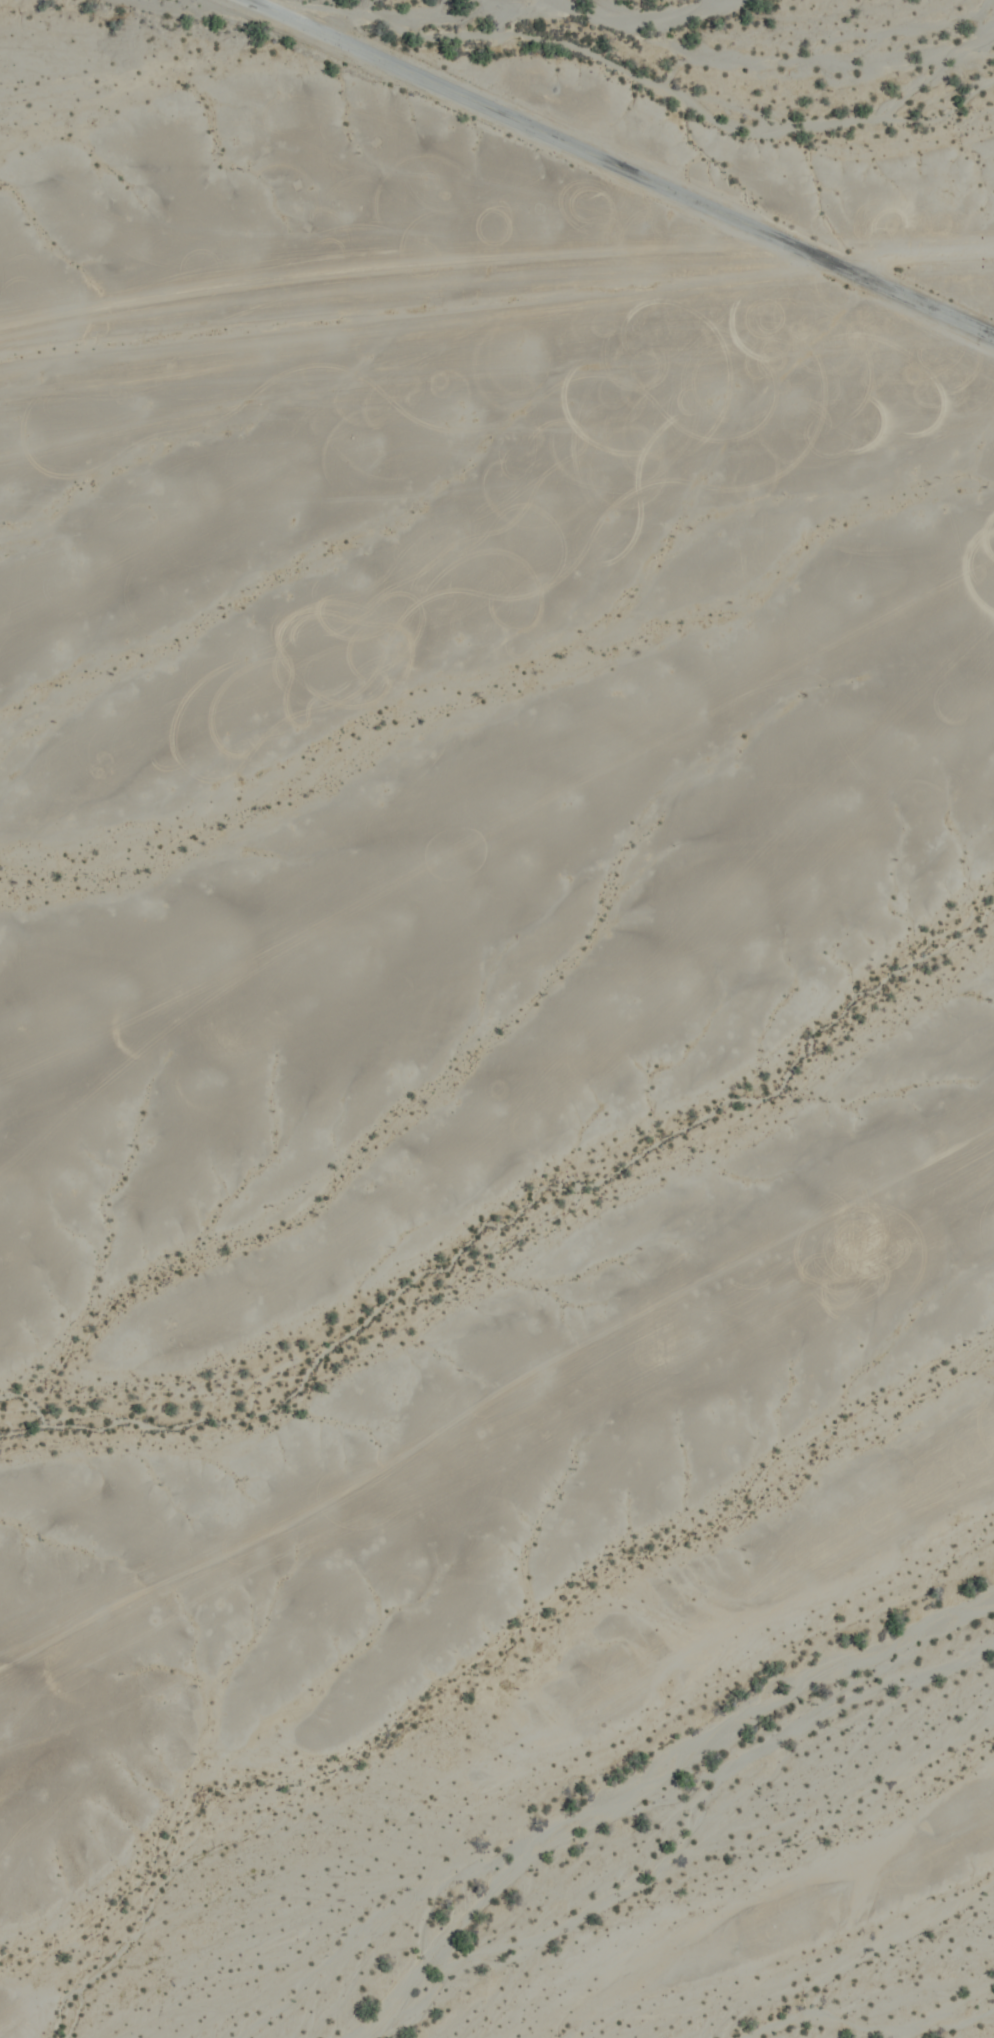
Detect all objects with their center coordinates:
road: (618, 167)
road: (496, 273)

